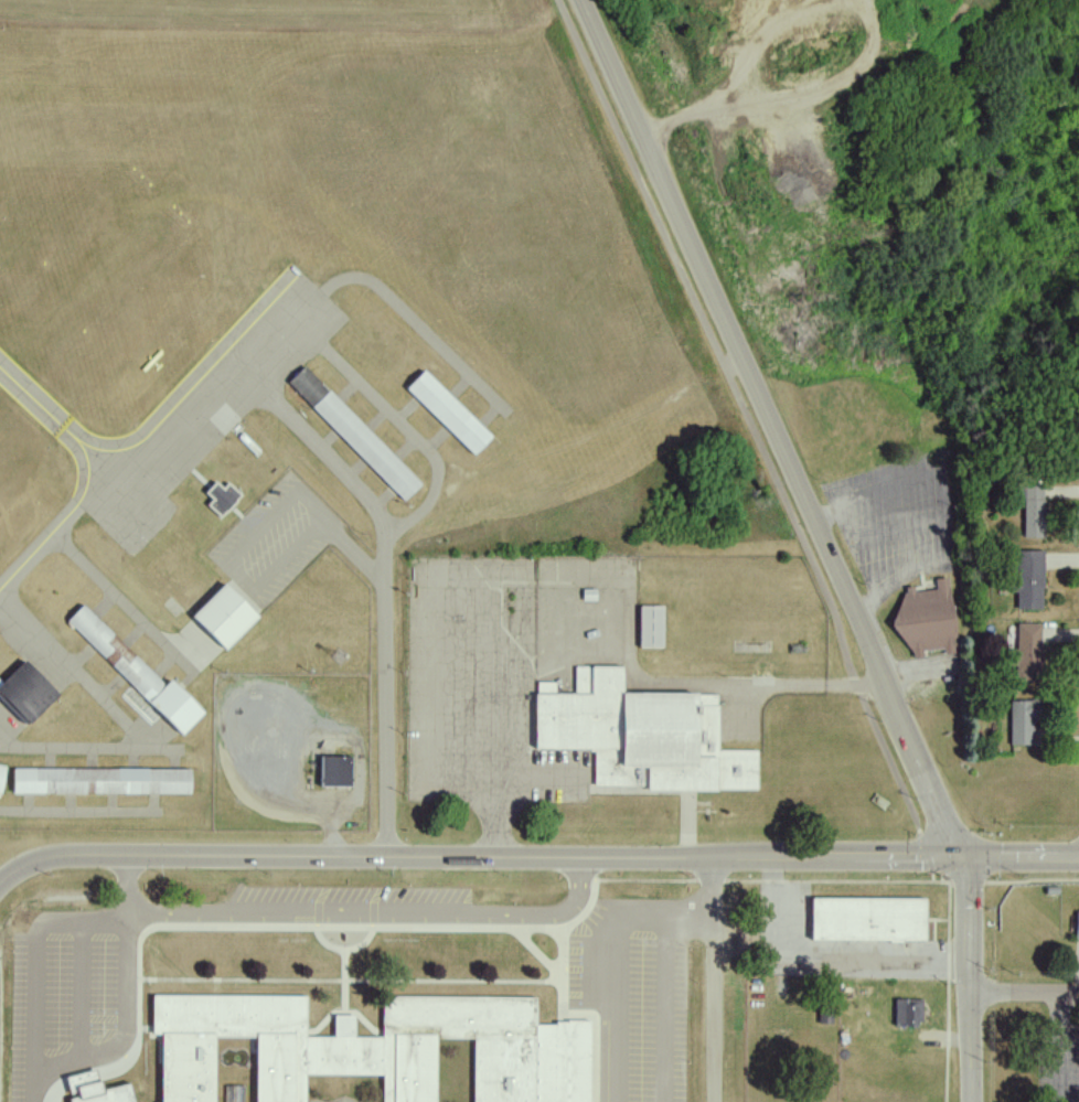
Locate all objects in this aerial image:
airport runway: (77, 282)
airport apron: (199, 411)
building: (447, 411)
road: (748, 417)
airport taxiway: (47, 418)
road: (772, 429)
building: (352, 432)
airport: (376, 452)
building: (220, 497)
road: (946, 507)
building: (1030, 509)
airport taxiway: (39, 547)
building: (1027, 579)
building: (222, 616)
building: (926, 620)
building: (649, 627)
building: (1026, 653)
building: (133, 671)
road: (385, 677)
building: (24, 692)
building: (1022, 720)
building: (641, 735)
building: (0, 770)
building: (333, 771)
building: (99, 781)
road: (536, 860)
road: (125, 894)
road: (384, 908)
building: (866, 919)
building: (1077, 924)
road: (498, 934)
road: (346, 955)
road: (543, 957)
road: (953, 964)
road: (35, 965)
road: (620, 965)
road: (713, 981)
road: (973, 981)
road: (355, 983)
road: (1026, 993)
road: (346, 1004)
road: (665, 1006)
building: (908, 1012)
road: (581, 1017)
road: (330, 1019)
road: (122, 1021)
road: (1060, 1047)
building: (368, 1051)
building: (97, 1089)

